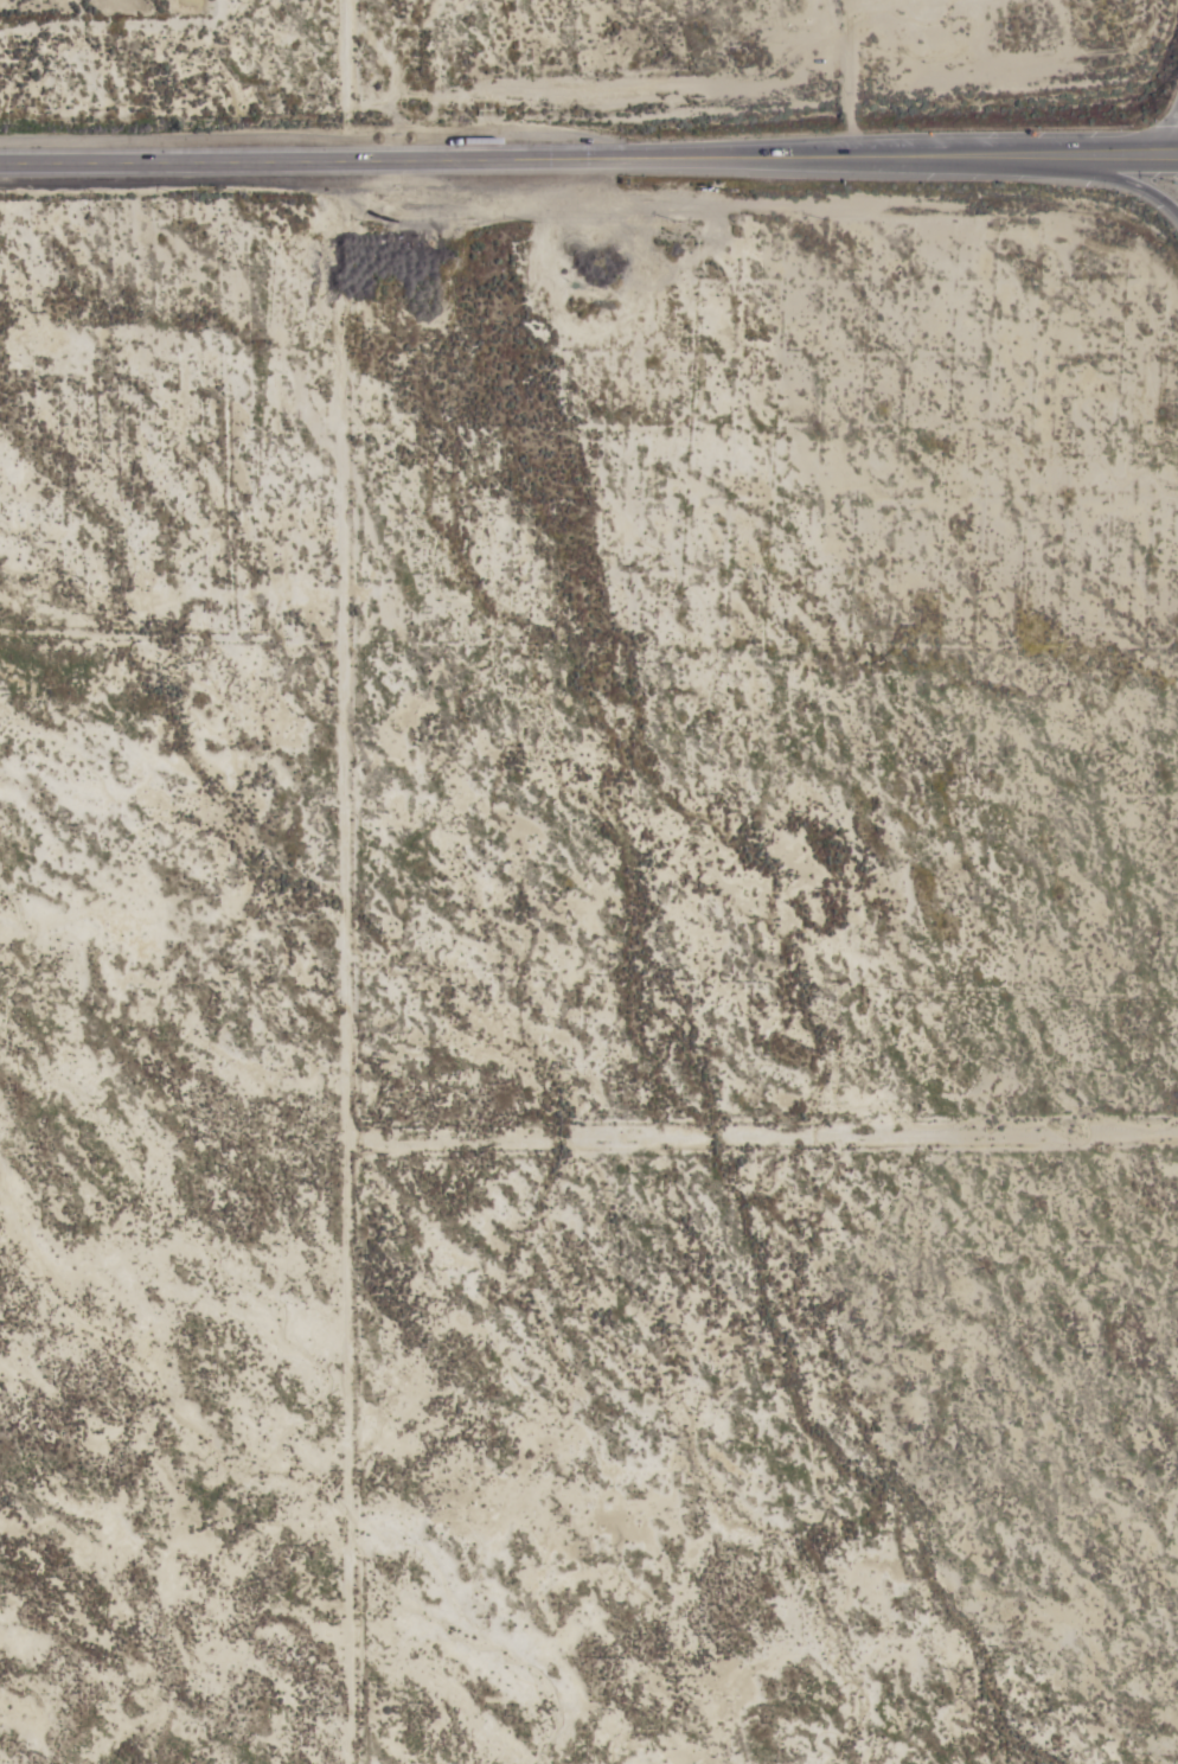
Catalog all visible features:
road: (1174, 132)
road: (1105, 153)
road: (1176, 156)
railway: (564, 160)
railway: (552, 164)
road: (516, 168)
road: (1108, 175)
railway: (926, 726)
railway: (921, 742)

